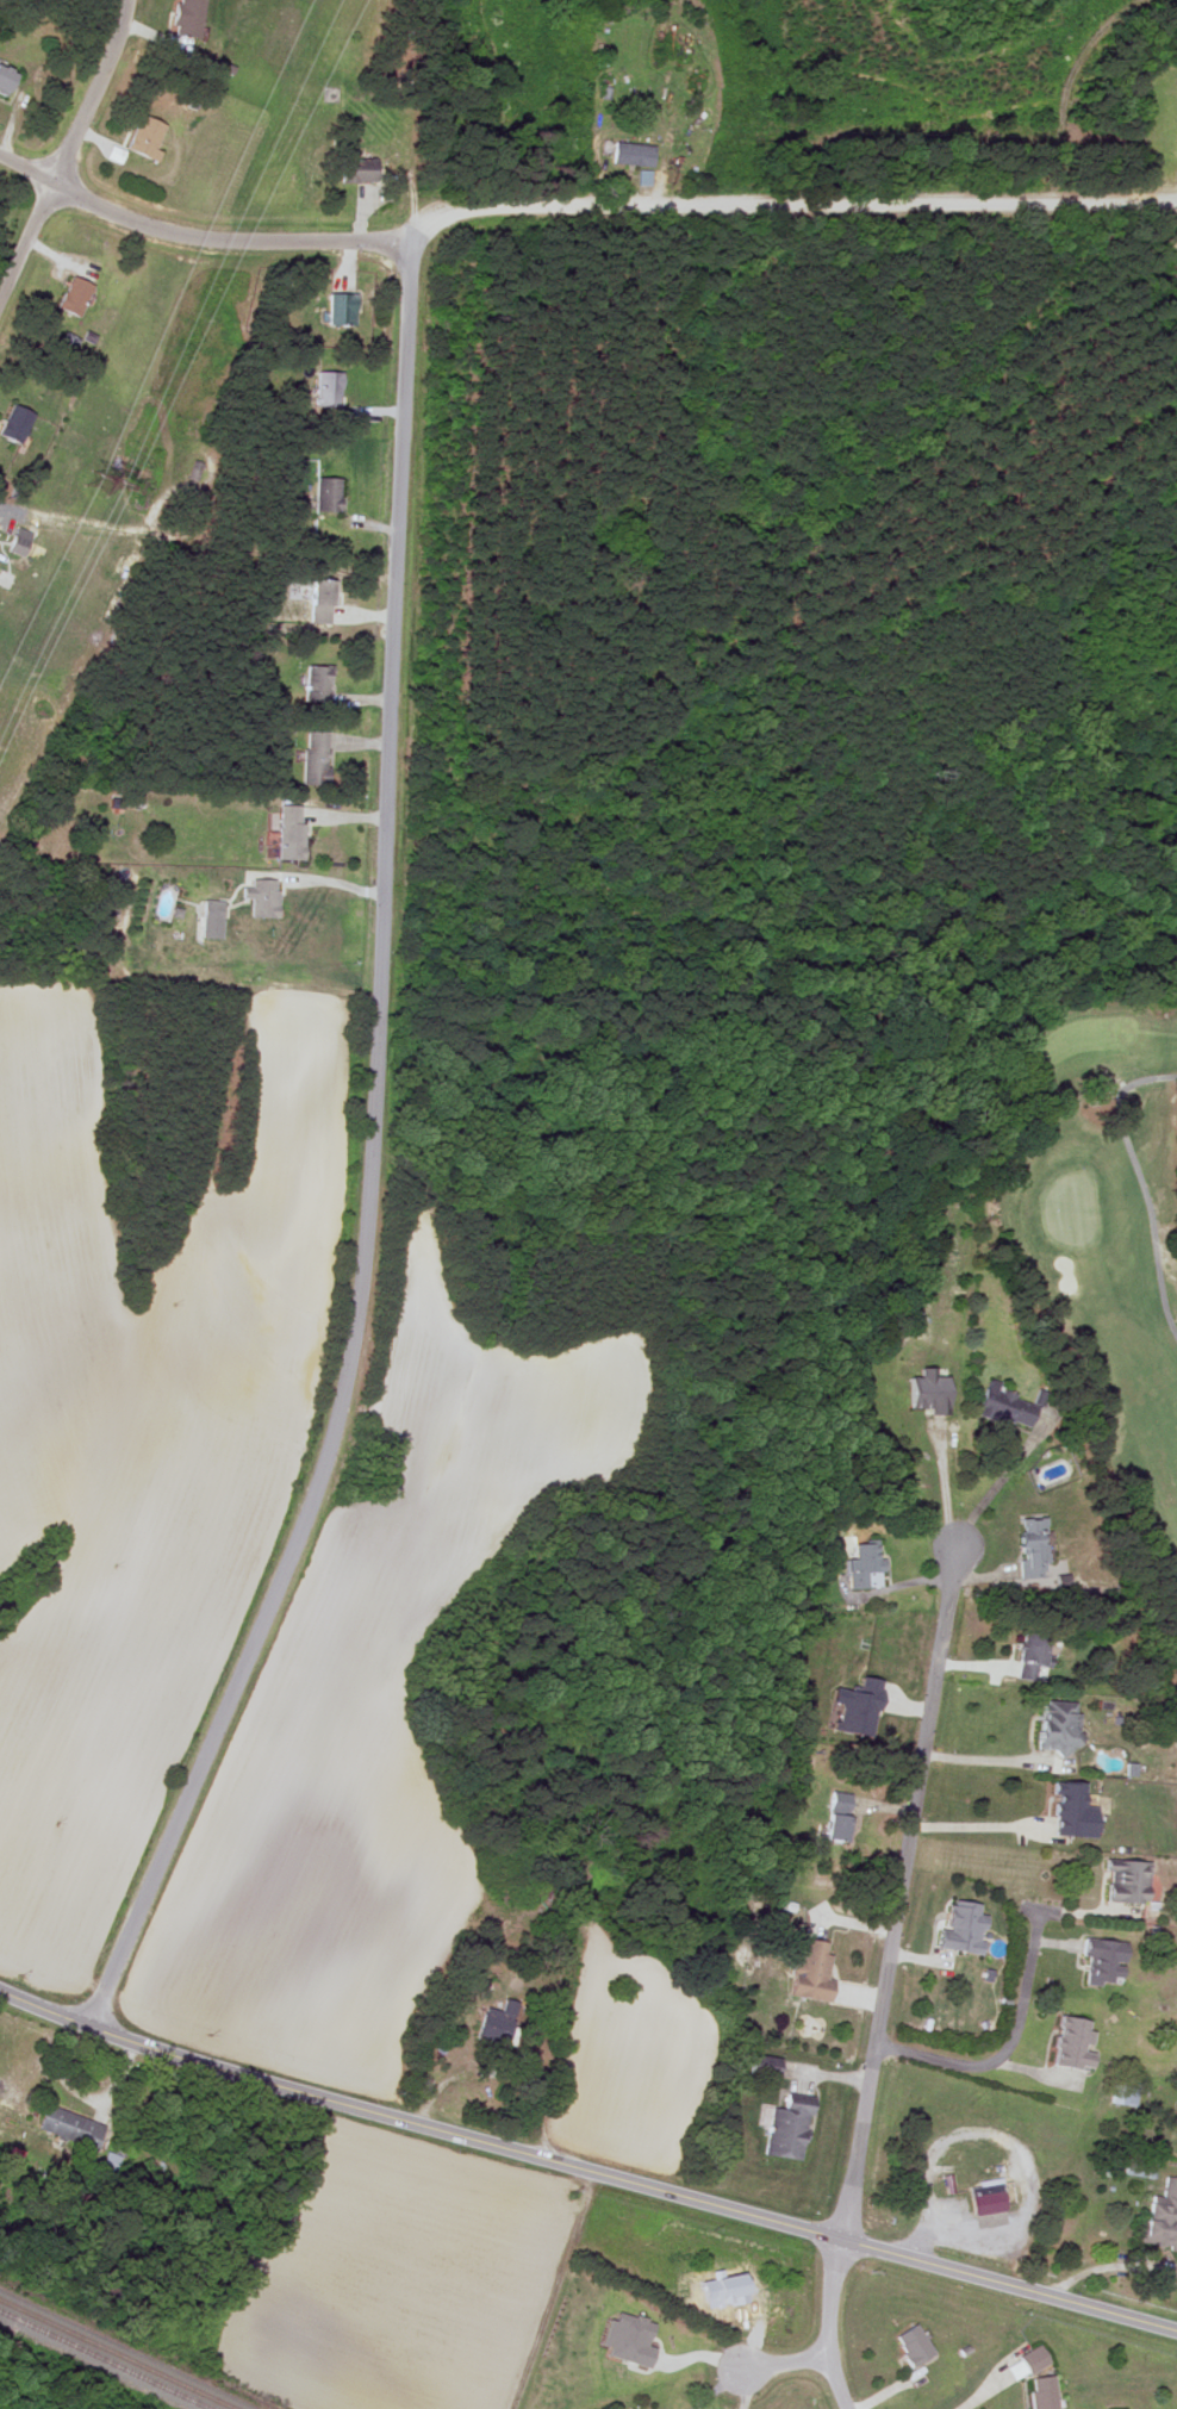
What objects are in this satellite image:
building: (185, 18)
road: (1071, 69)
building: (5, 77)
building: (147, 137)
road: (67, 148)
building: (634, 154)
building: (355, 170)
building: (644, 176)
road: (1176, 199)
road: (787, 200)
road: (198, 232)
building: (71, 297)
building: (340, 310)
building: (326, 388)
building: (14, 424)
power tower: (98, 481)
building: (325, 493)
building: (17, 541)
building: (318, 600)
building: (316, 684)
building: (312, 758)
building: (288, 833)
building: (260, 897)
building: (213, 919)
road: (365, 1158)
park: (1092, 1224)
building: (929, 1388)
building: (1013, 1409)
road: (998, 1482)
road: (942, 1484)
building: (1030, 1548)
building: (866, 1564)
building: (1029, 1656)
building: (859, 1706)
building: (1057, 1726)
road: (997, 1760)
building: (1071, 1811)
building: (835, 1824)
road: (976, 1825)
building: (1125, 1880)
building: (960, 1926)
building: (1101, 1961)
building: (810, 1972)
road: (885, 1979)
building: (496, 2022)
building: (1071, 2042)
road: (1005, 2046)
road: (81, 2092)
building: (68, 2128)
building: (785, 2129)
road: (585, 2167)
road: (1028, 2170)
building: (985, 2196)
building: (1160, 2212)
building: (629, 2339)
building: (910, 2343)
building: (1030, 2348)
railway: (117, 2354)
building: (1033, 2359)
railway: (101, 2361)
road: (779, 2364)
road: (716, 2389)
building: (1042, 2391)
road: (979, 2396)

